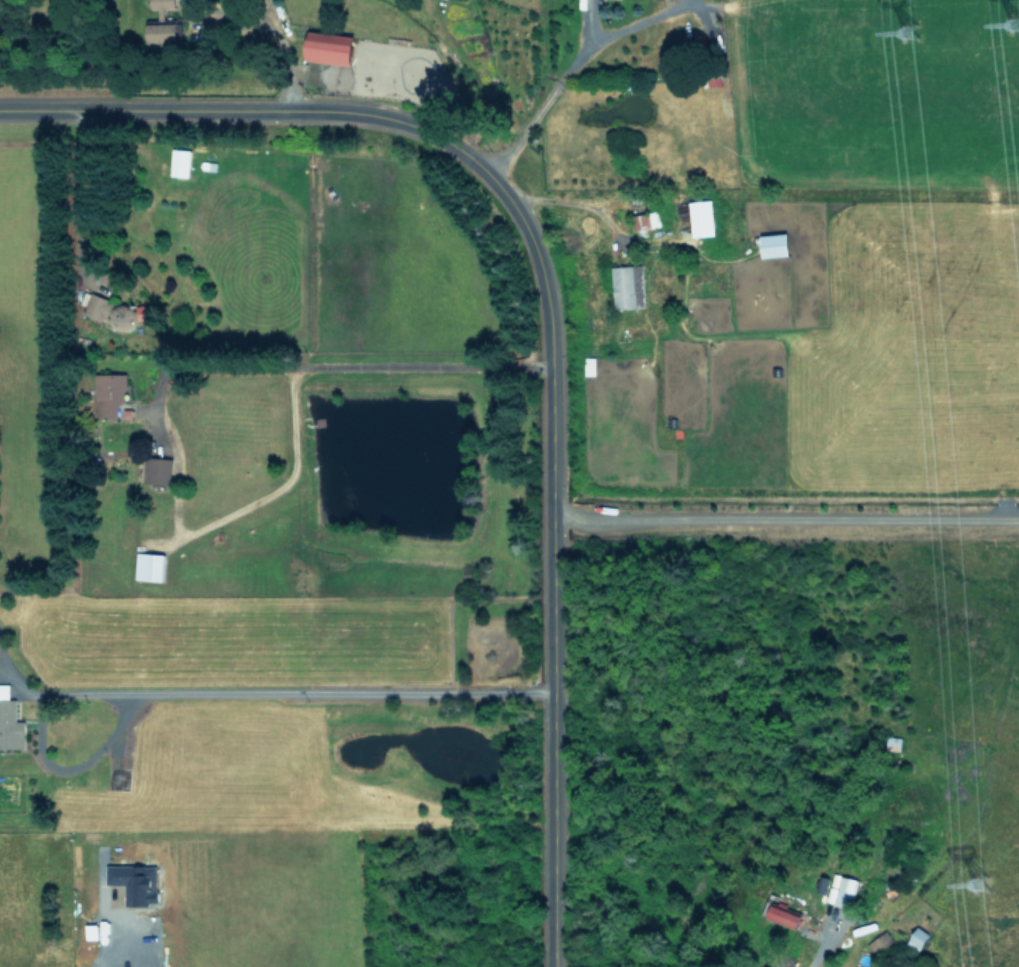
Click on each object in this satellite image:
building: (161, 23)
power tower: (924, 39)
building: (328, 48)
road: (558, 63)
road: (84, 189)
road: (562, 195)
building: (701, 218)
building: (646, 222)
building: (774, 245)
building: (628, 287)
road: (541, 308)
building: (119, 316)
road: (318, 359)
building: (589, 366)
building: (113, 384)
building: (157, 470)
road: (784, 513)
building: (149, 566)
road: (298, 693)
building: (9, 721)
building: (135, 882)
building: (842, 891)
power tower: (985, 891)
building: (783, 915)
road: (819, 937)
building: (918, 937)
road: (104, 944)

